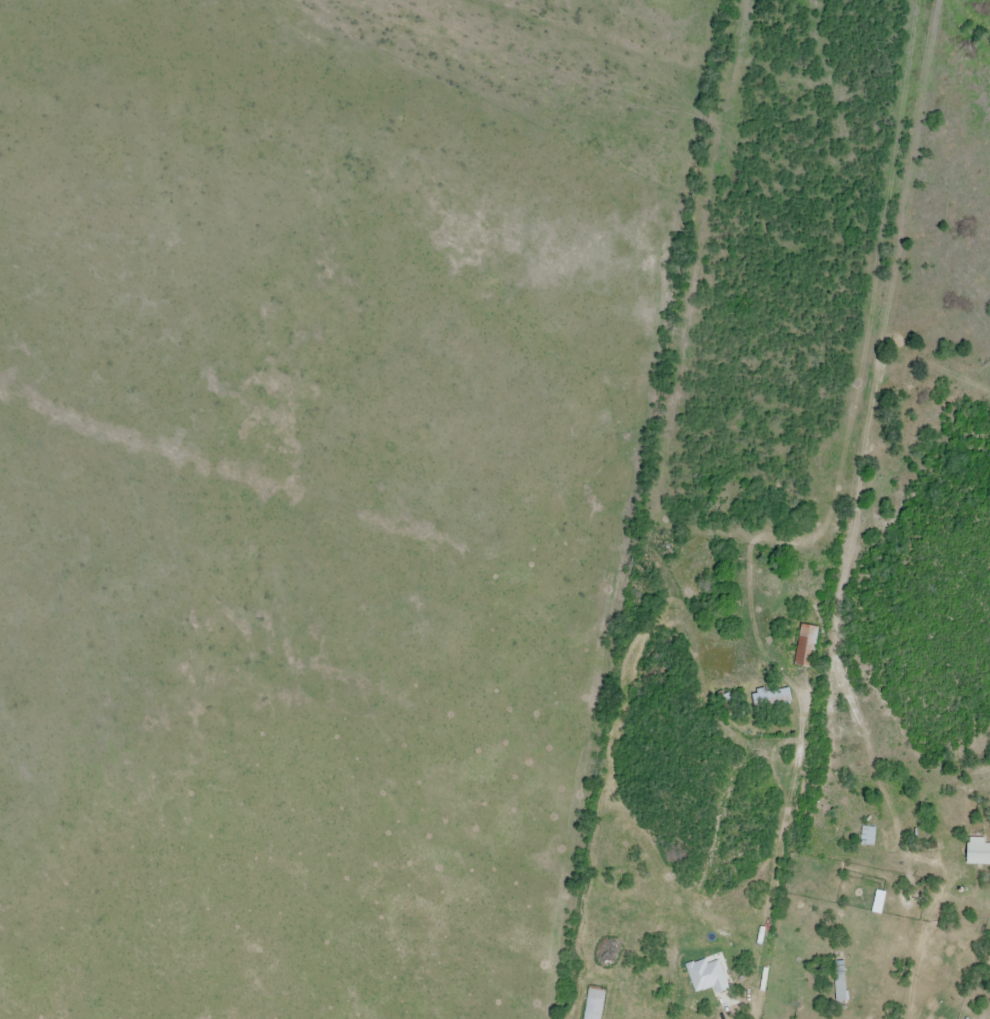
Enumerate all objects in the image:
building: (806, 647)
building: (771, 698)
building: (868, 837)
road: (767, 853)
building: (978, 853)
road: (921, 941)
building: (839, 982)
building: (594, 1003)

